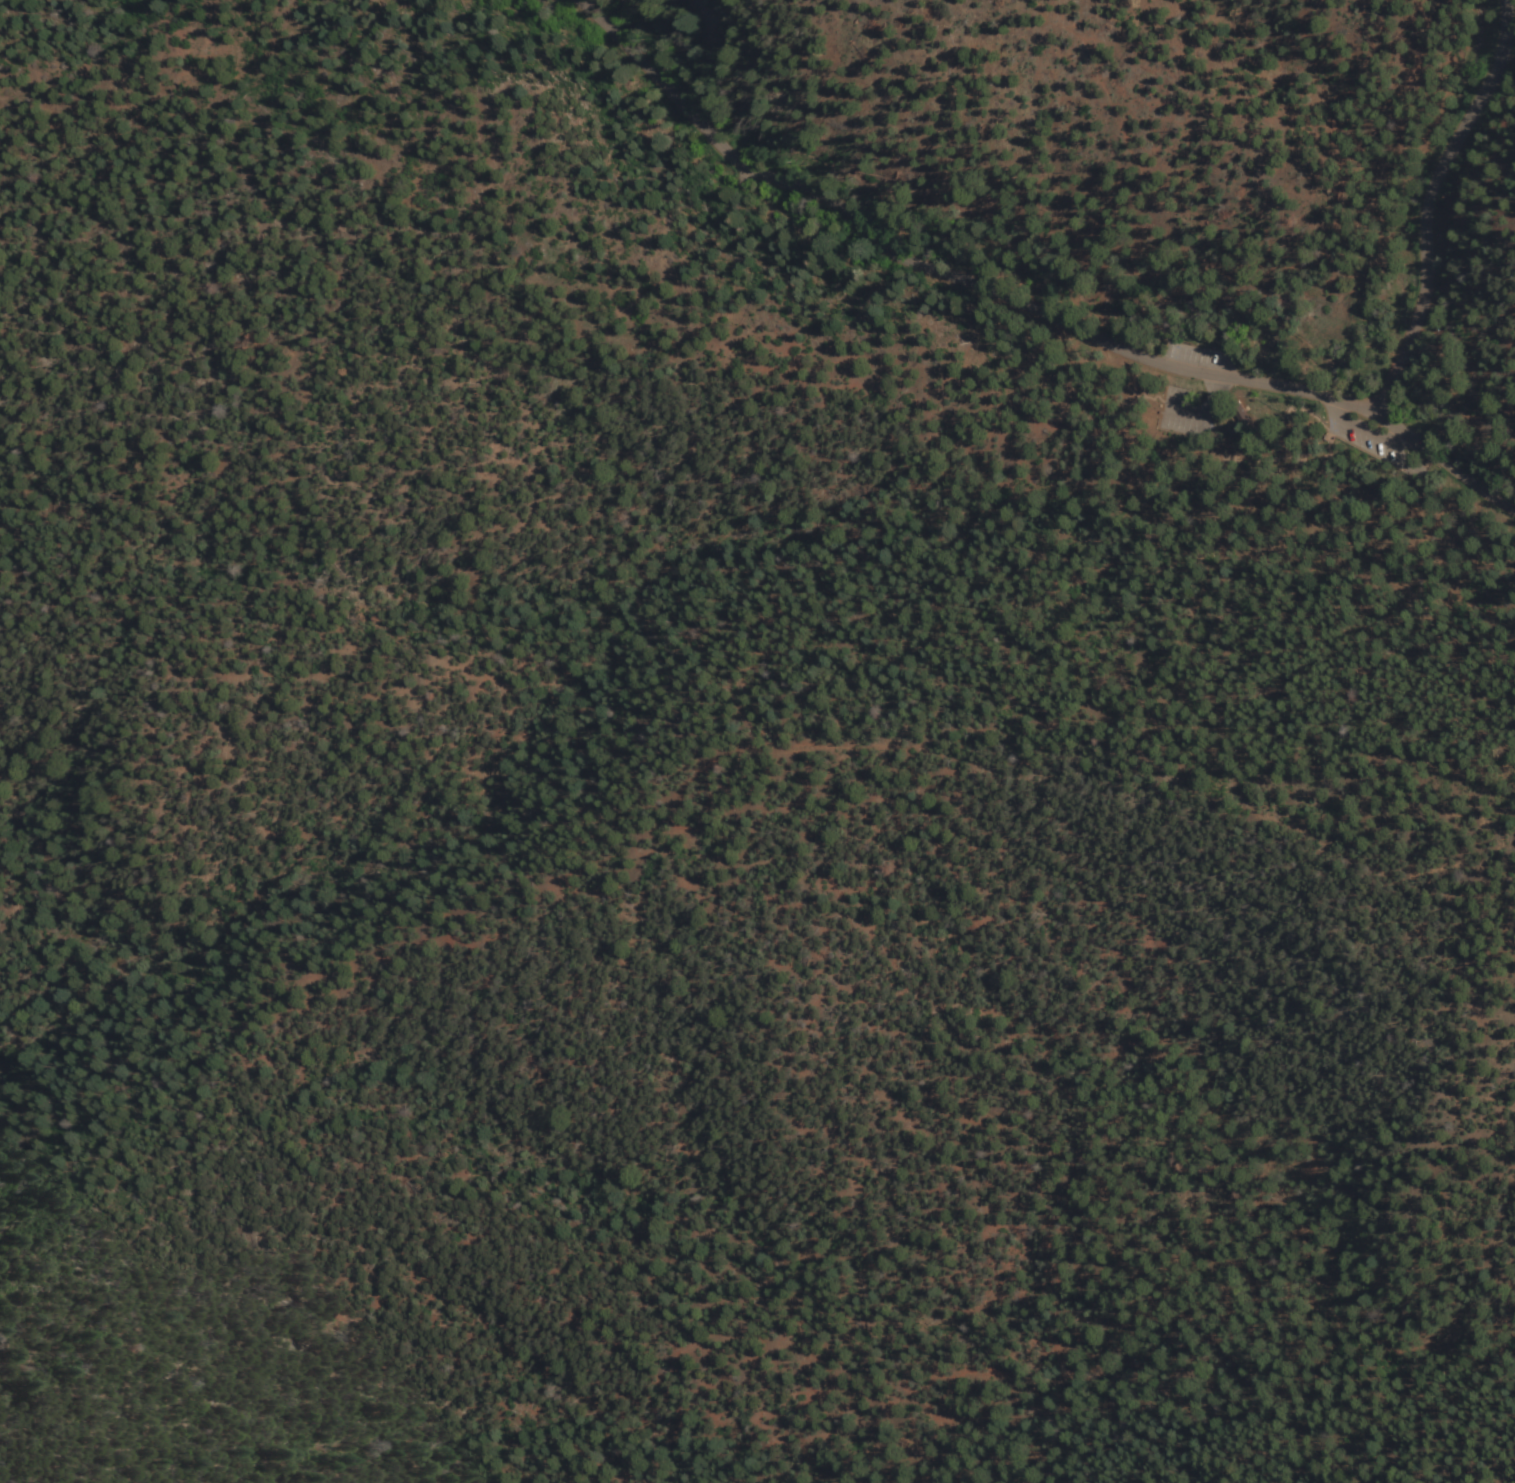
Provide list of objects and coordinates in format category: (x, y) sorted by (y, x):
road: (1329, 126)
parking lot: (741, 172)
road: (1426, 199)
road: (1006, 217)
road: (923, 263)
road: (1173, 267)
road: (1131, 276)
road: (1113, 296)
road: (1151, 323)
parking lot: (1199, 356)
road: (1218, 388)
road: (1357, 400)
road: (1450, 402)
road: (1292, 410)
parking lot: (1184, 412)
building: (1241, 412)
road: (1390, 417)
road: (1360, 427)
road: (1410, 432)
road: (1403, 433)
parking lot: (1366, 434)
road: (1303, 455)
road: (1465, 472)

